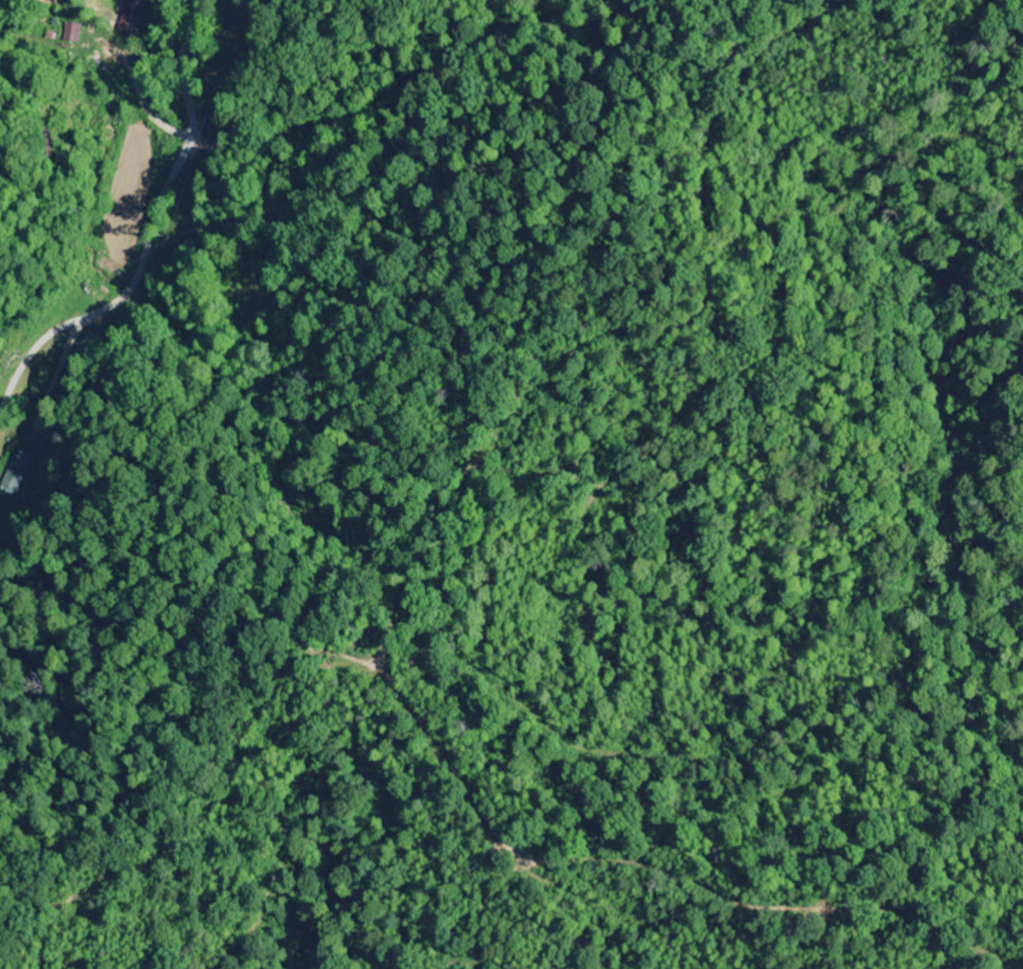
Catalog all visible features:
road: (156, 224)
building: (32, 443)
building: (15, 473)

